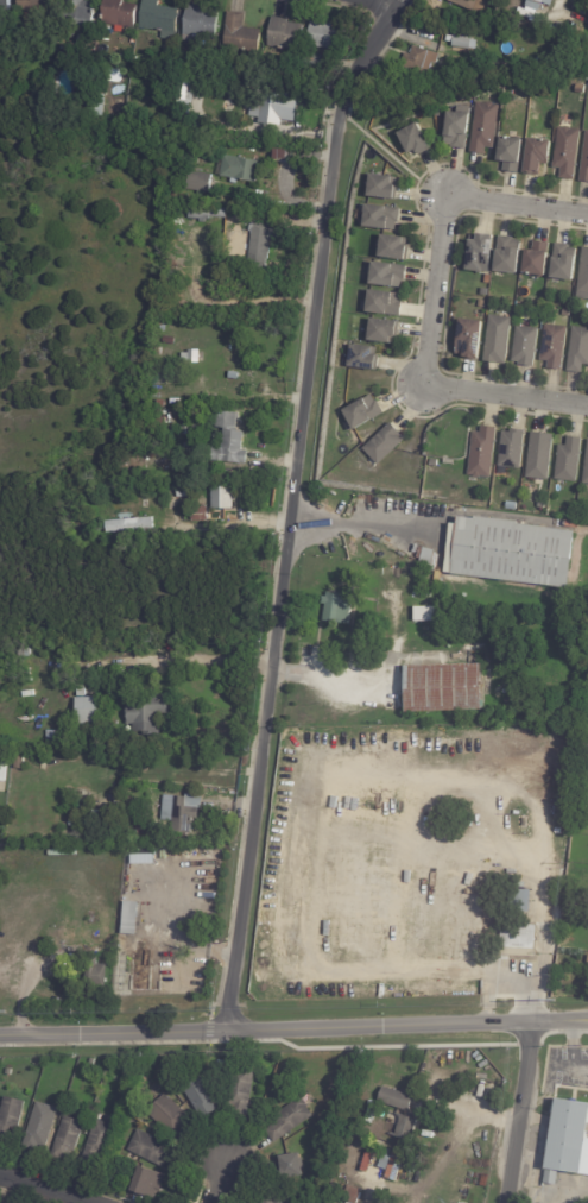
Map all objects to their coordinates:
building: (535, 4)
building: (469, 5)
building: (8, 6)
building: (42, 6)
road: (368, 6)
building: (121, 13)
building: (86, 15)
building: (504, 18)
building: (160, 20)
building: (203, 25)
building: (244, 34)
building: (289, 34)
building: (331, 38)
building: (460, 44)
building: (64, 61)
building: (418, 61)
building: (223, 63)
building: (316, 63)
building: (186, 84)
building: (533, 97)
building: (100, 106)
building: (273, 109)
building: (455, 128)
building: (482, 128)
building: (412, 140)
building: (564, 153)
building: (507, 155)
building: (533, 156)
building: (583, 162)
building: (241, 169)
building: (200, 182)
building: (380, 188)
building: (209, 214)
building: (379, 219)
building: (240, 237)
building: (261, 248)
building: (388, 248)
building: (478, 254)
building: (506, 257)
building: (535, 262)
building: (561, 265)
building: (384, 276)
building: (582, 278)
building: (483, 292)
road: (429, 303)
building: (381, 304)
building: (481, 304)
building: (380, 332)
building: (468, 340)
building: (495, 341)
building: (171, 342)
building: (550, 345)
building: (524, 347)
building: (576, 352)
building: (361, 358)
building: (235, 377)
building: (164, 405)
building: (159, 412)
building: (361, 414)
building: (188, 430)
building: (234, 442)
building: (380, 445)
building: (511, 448)
building: (196, 451)
building: (481, 452)
building: (538, 455)
building: (568, 459)
building: (434, 462)
building: (586, 465)
building: (188, 493)
building: (227, 499)
road: (295, 509)
building: (203, 515)
building: (83, 522)
building: (132, 527)
road: (229, 527)
road: (362, 528)
building: (511, 552)
building: (424, 558)
building: (437, 575)
building: (422, 594)
building: (335, 609)
building: (424, 613)
building: (25, 653)
road: (162, 660)
building: (27, 682)
building: (441, 687)
building: (91, 711)
building: (153, 713)
building: (62, 738)
building: (584, 749)
building: (21, 762)
building: (55, 767)
building: (5, 771)
building: (84, 805)
building: (181, 815)
building: (96, 819)
building: (135, 836)
building: (134, 918)
road: (545, 922)
building: (516, 940)
building: (96, 980)
power tower: (550, 1001)
road: (293, 1028)
building: (242, 1090)
building: (201, 1095)
building: (397, 1098)
road: (519, 1111)
building: (353, 1114)
building: (173, 1116)
building: (12, 1117)
building: (292, 1119)
building: (404, 1125)
building: (44, 1126)
building: (69, 1138)
building: (568, 1138)
building: (101, 1142)
building: (156, 1147)
building: (297, 1164)
building: (151, 1180)
road: (217, 1183)
road: (39, 1189)
building: (343, 1191)
building: (381, 1198)
building: (280, 1199)

